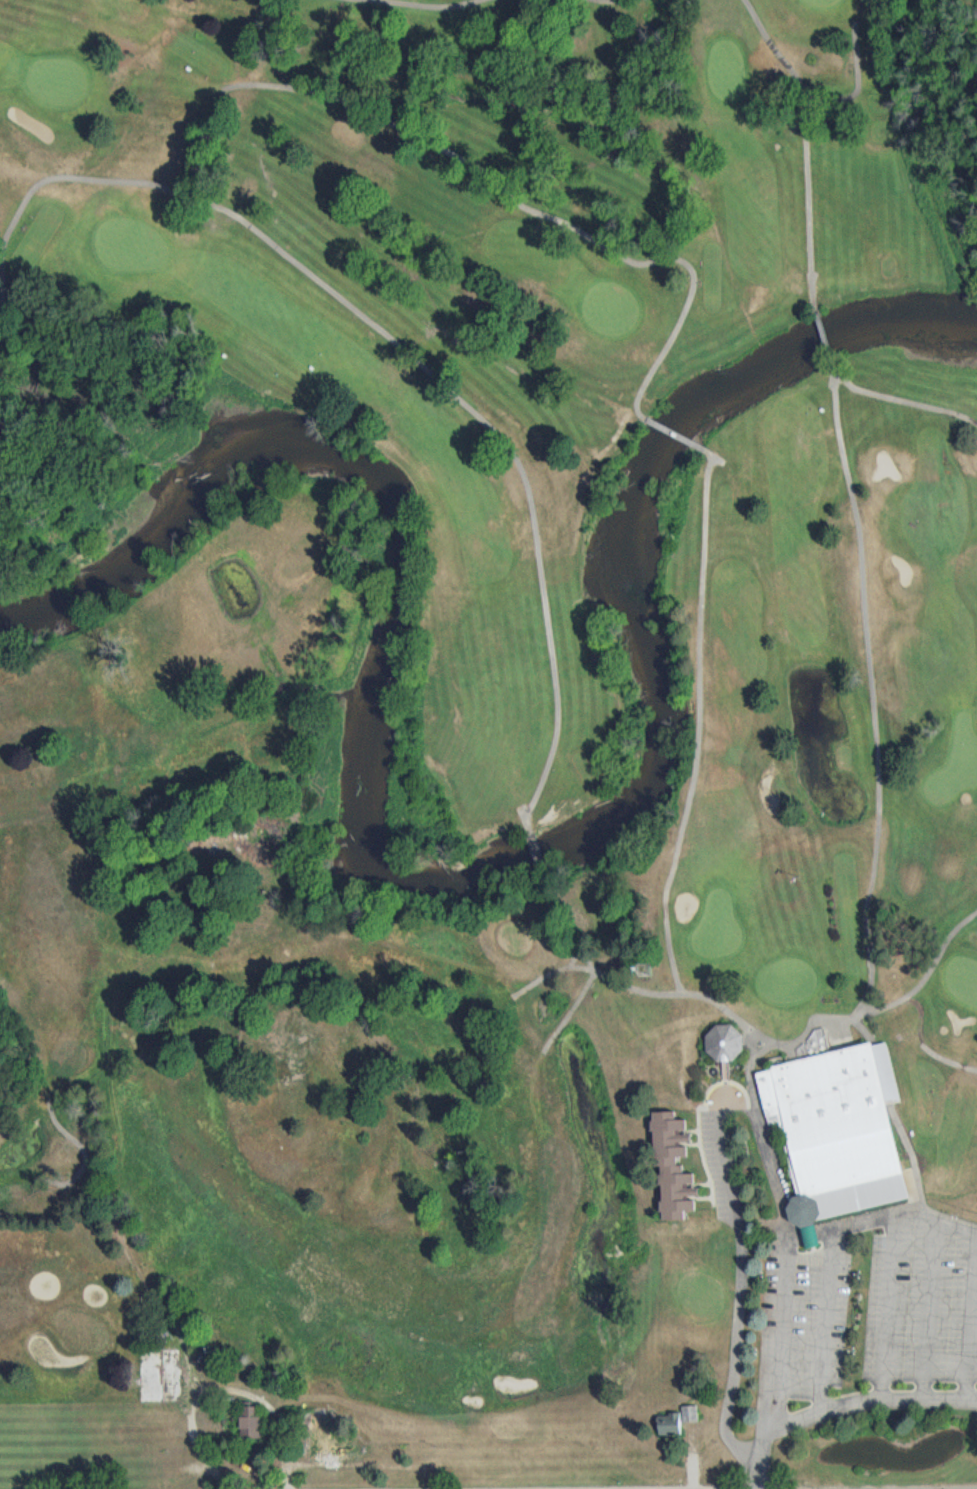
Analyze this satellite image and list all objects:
park: (480, 746)
river: (454, 885)
building: (842, 1132)
building: (676, 1167)
parking lot: (919, 1311)
building: (162, 1377)
building: (679, 1422)
building: (255, 1426)
building: (319, 1440)

